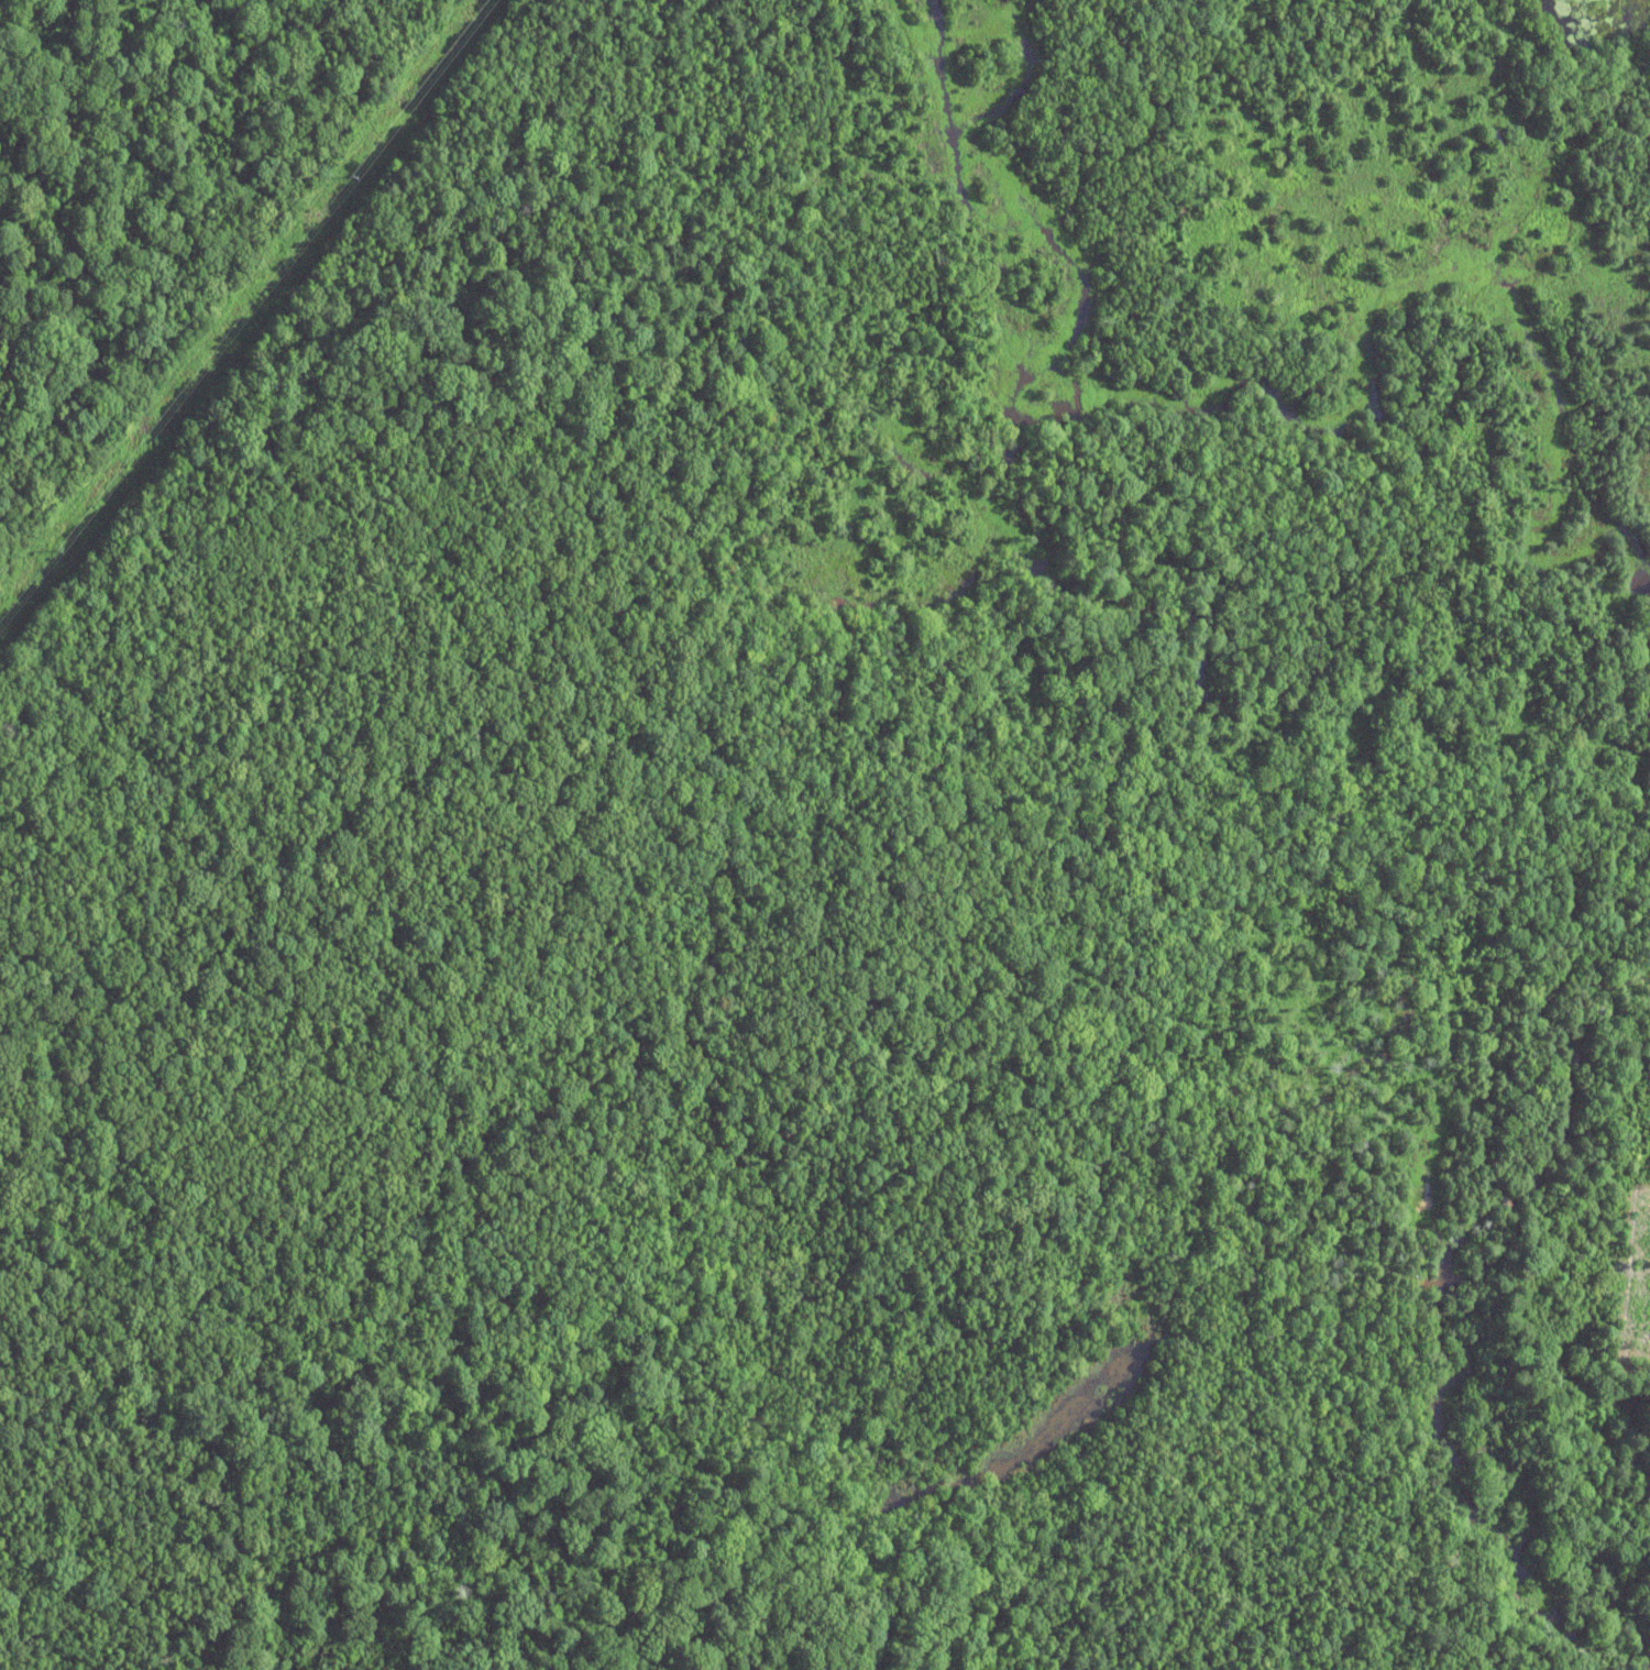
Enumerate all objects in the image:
power tower: (377, 140)
power tower: (56, 549)

